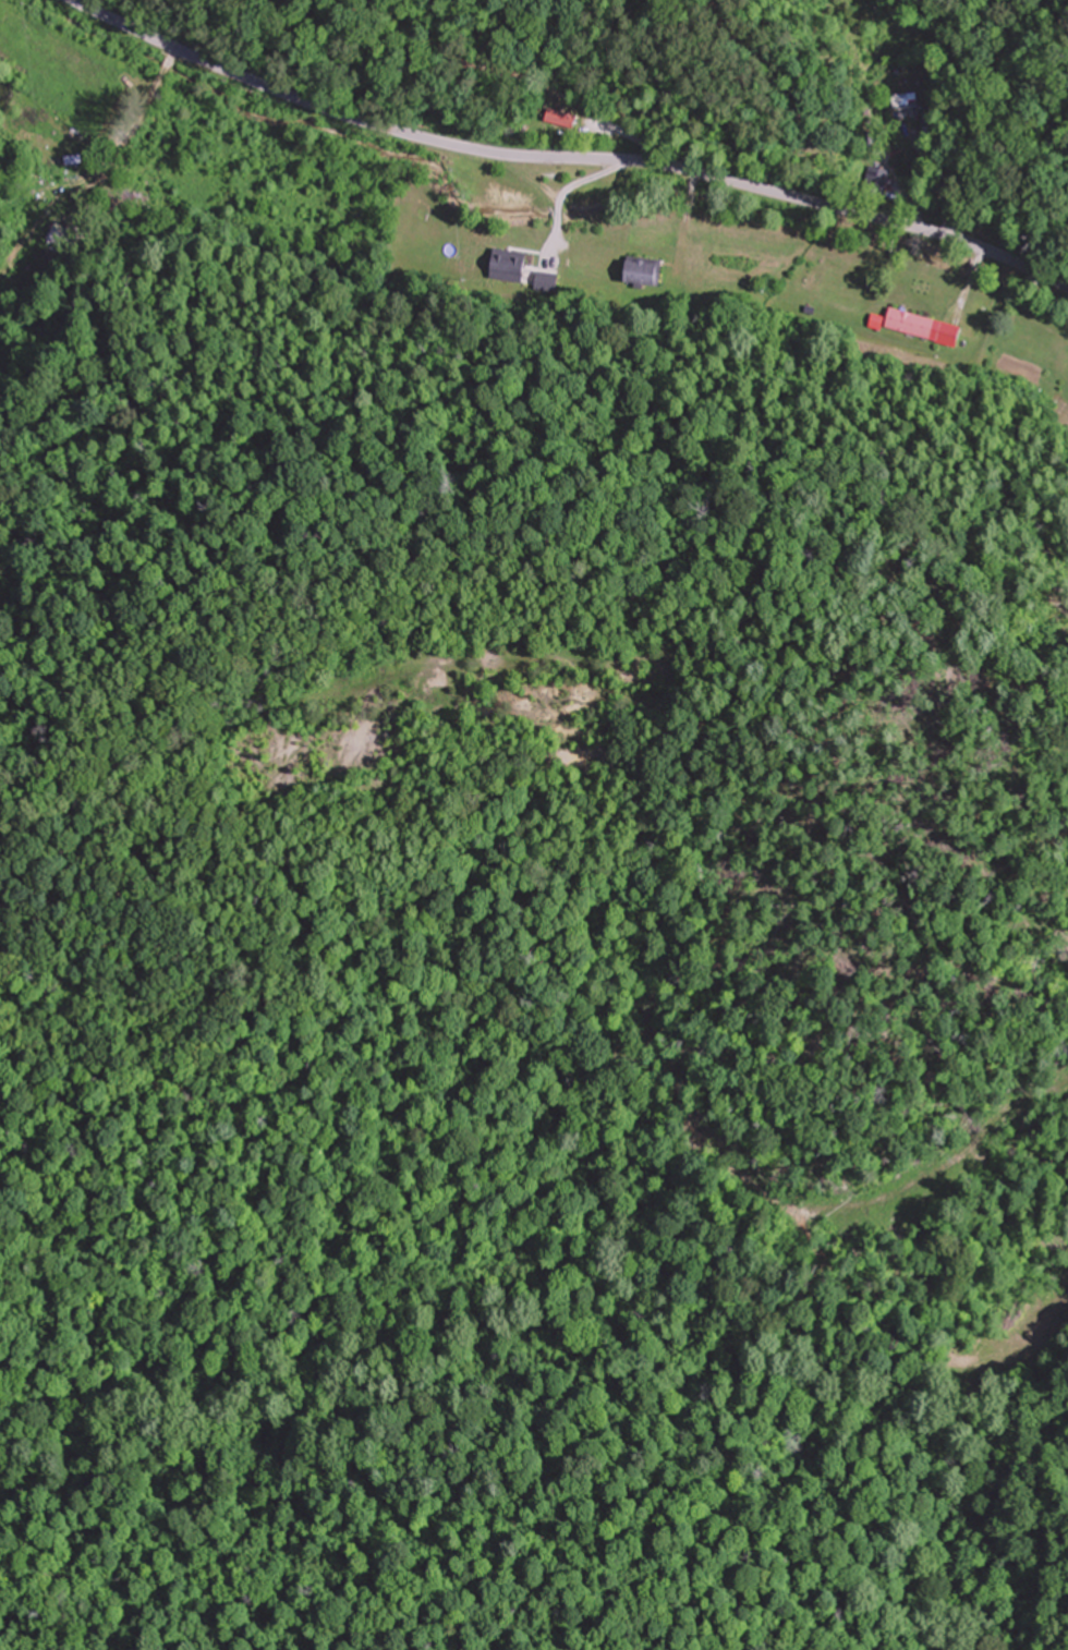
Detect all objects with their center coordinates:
building: (902, 101)
road: (567, 158)
building: (877, 177)
building: (138, 203)
building: (60, 238)
building: (644, 270)
building: (913, 323)

